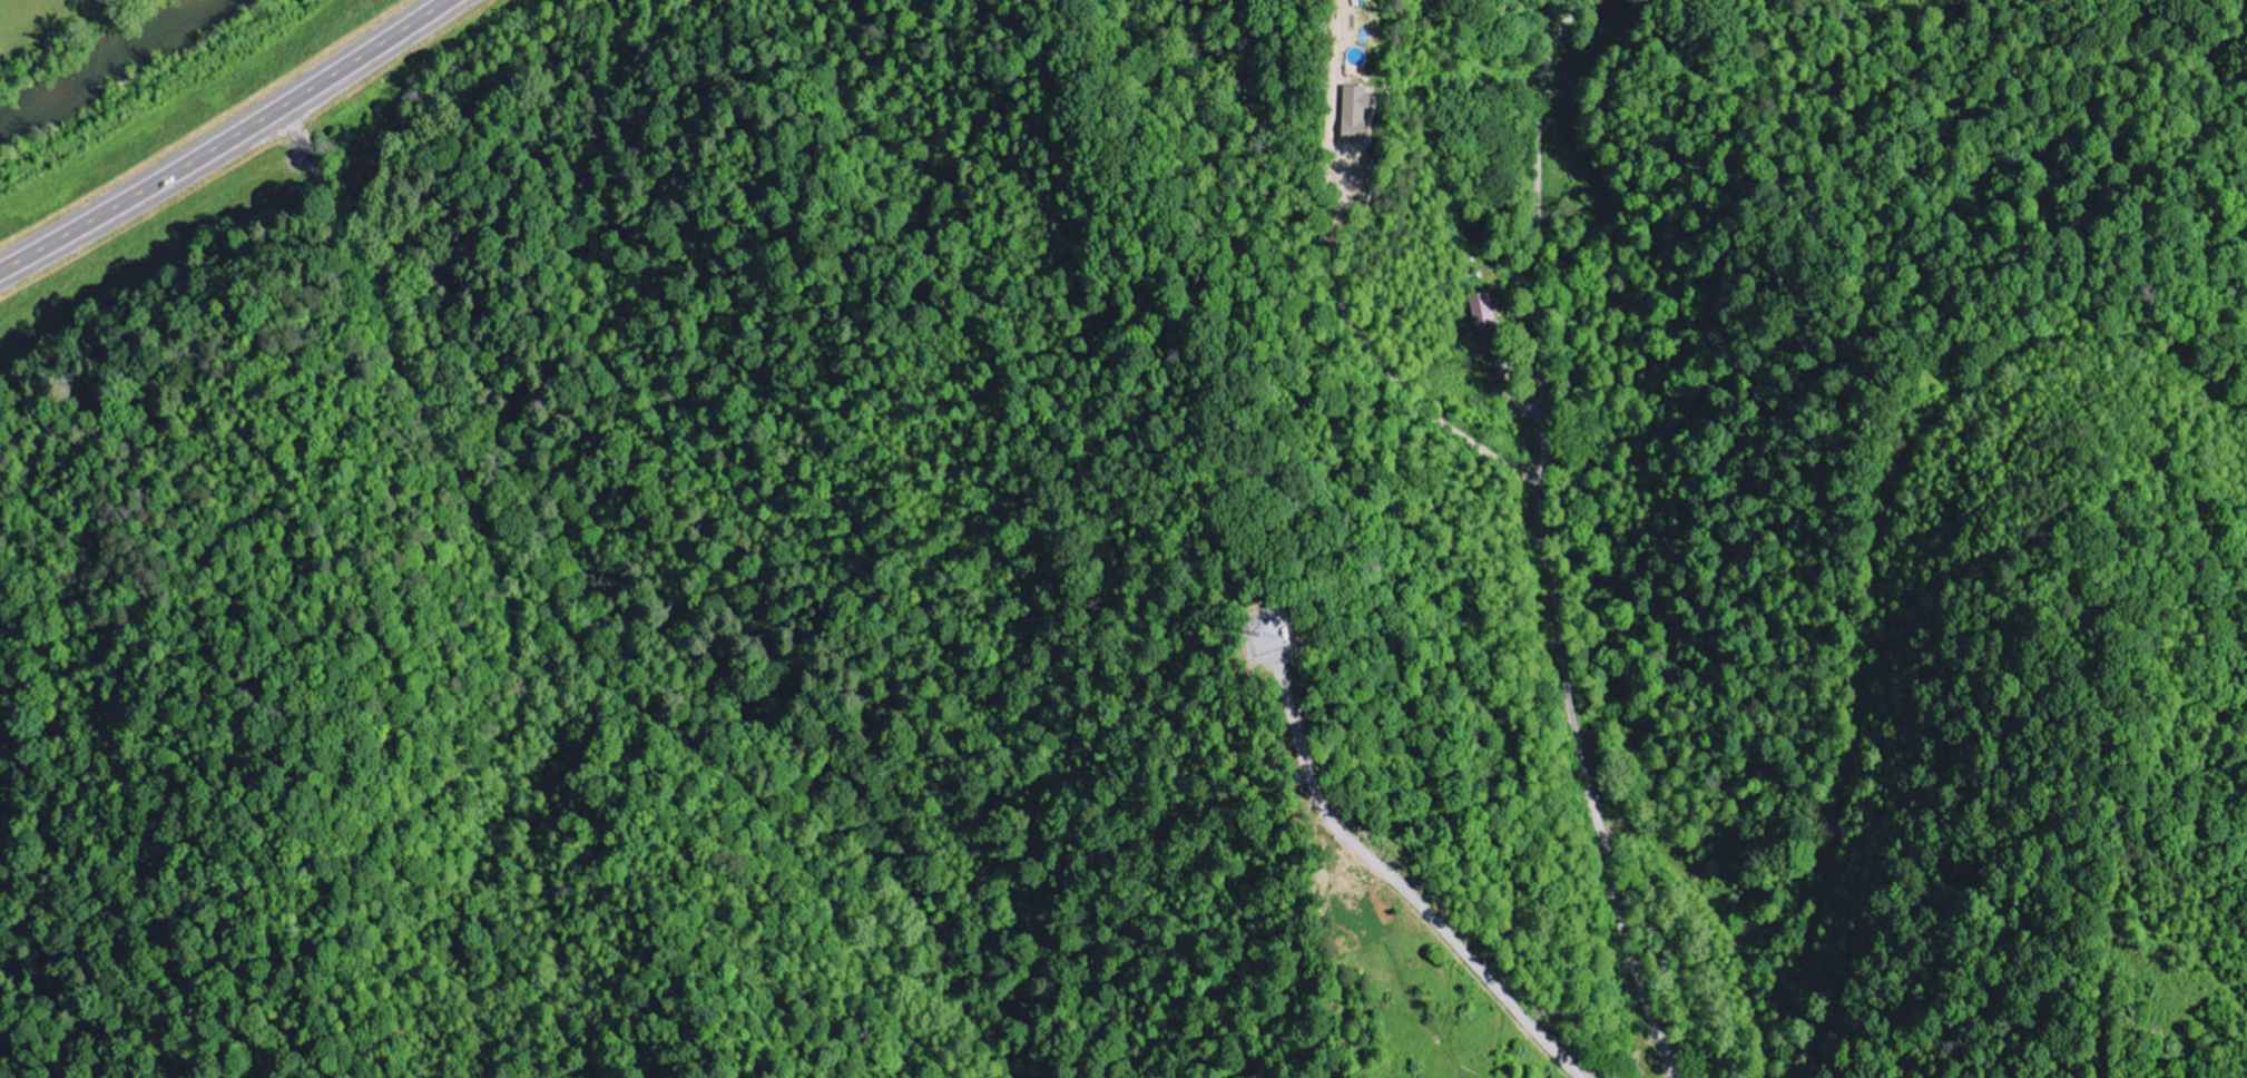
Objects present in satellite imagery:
river: (105, 61)
building: (1354, 111)
road: (227, 141)
building: (1482, 307)

